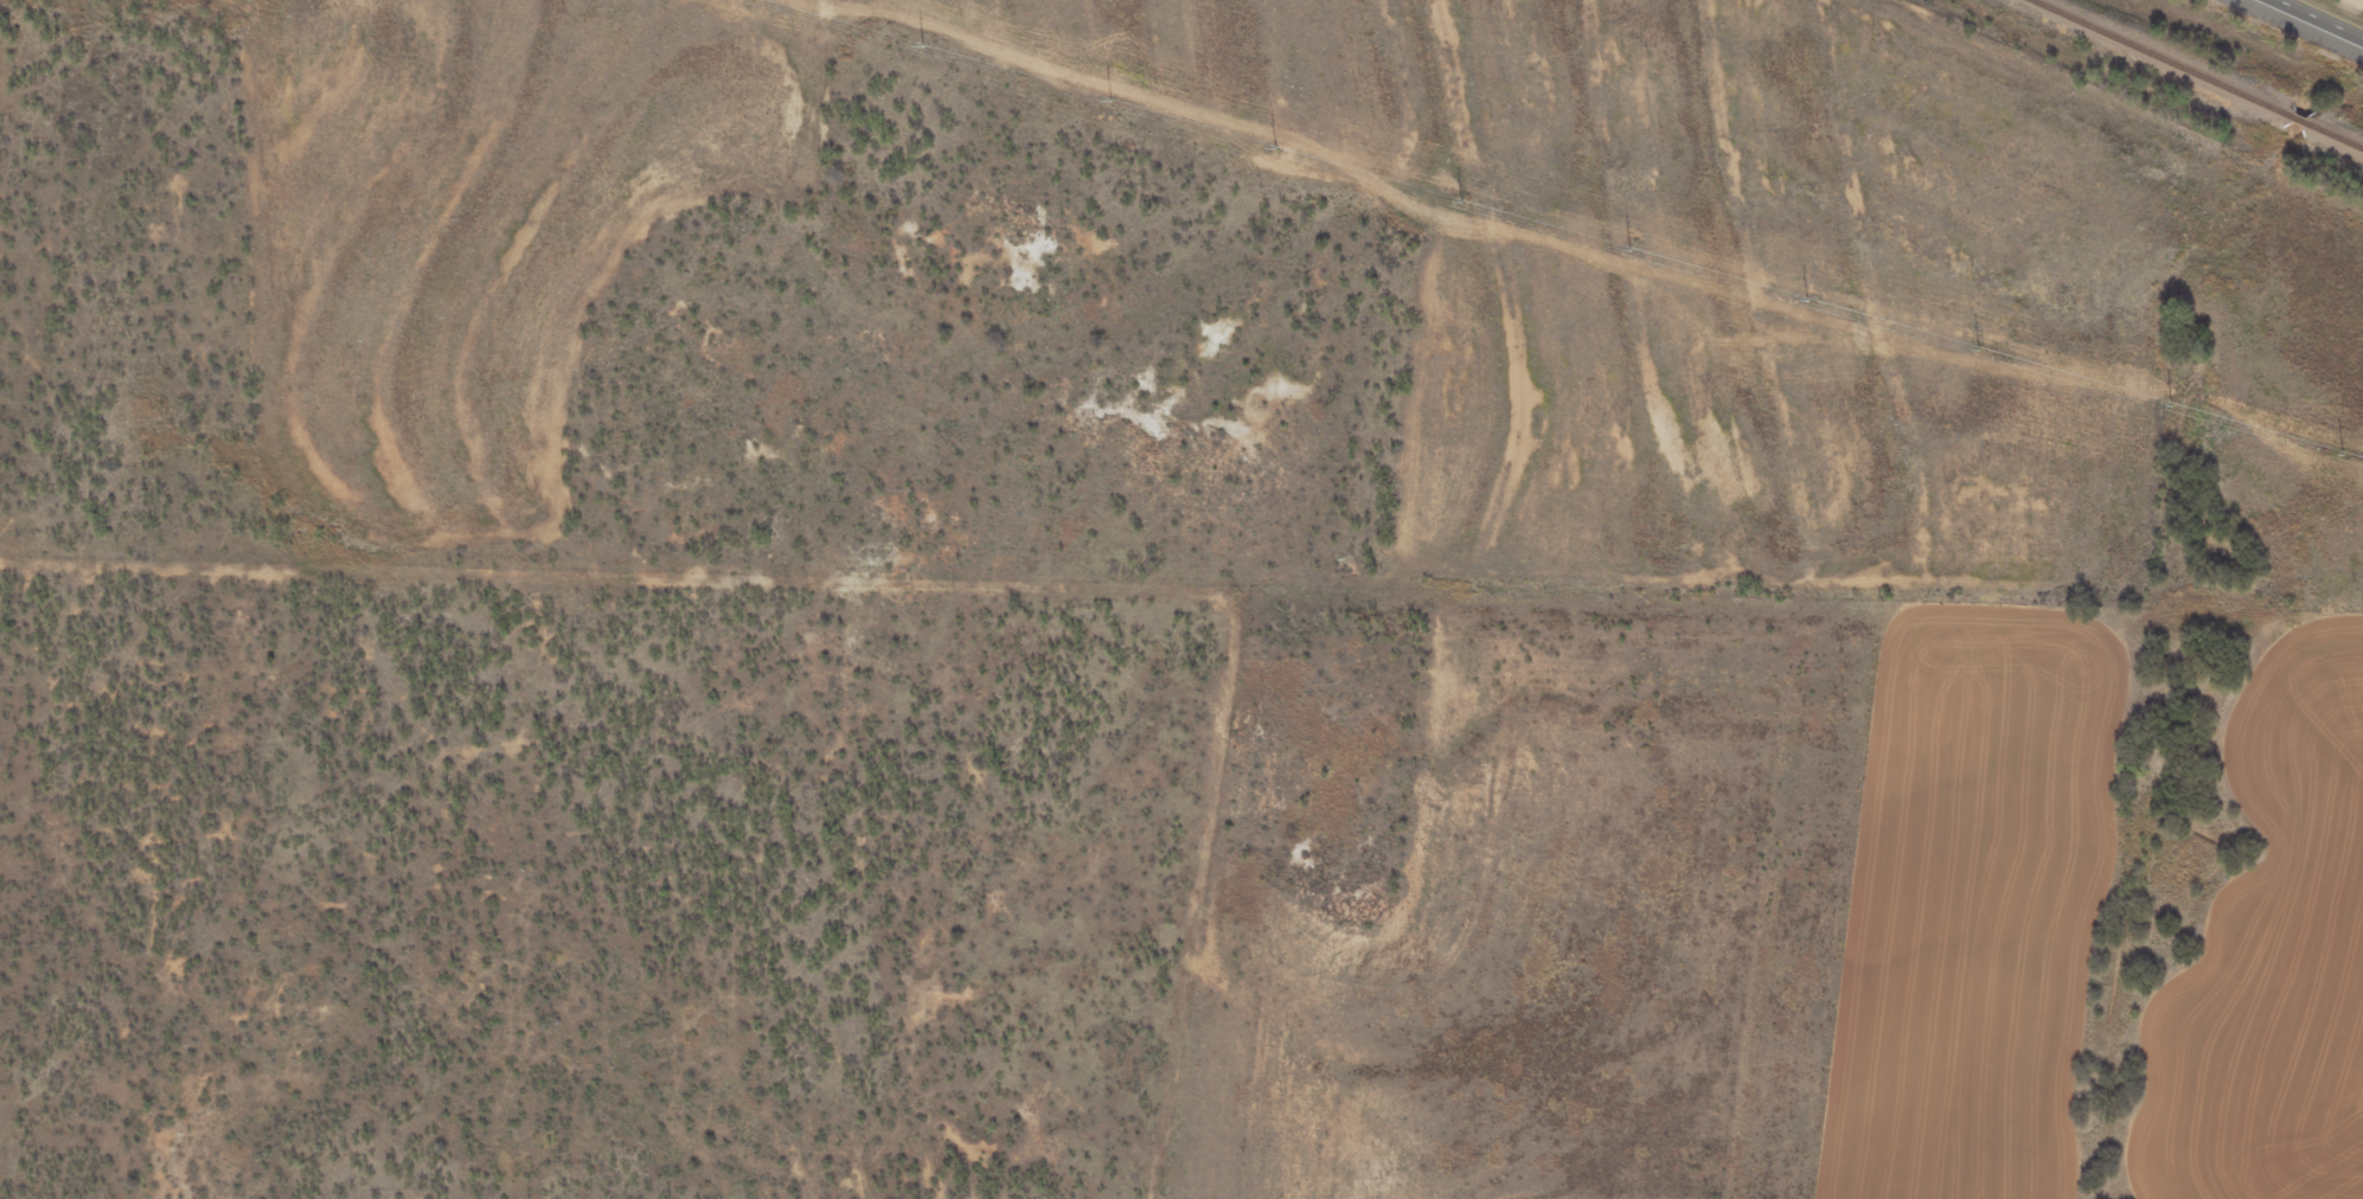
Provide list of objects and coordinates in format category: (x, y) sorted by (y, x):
road: (2312, 21)
railway: (2196, 75)

